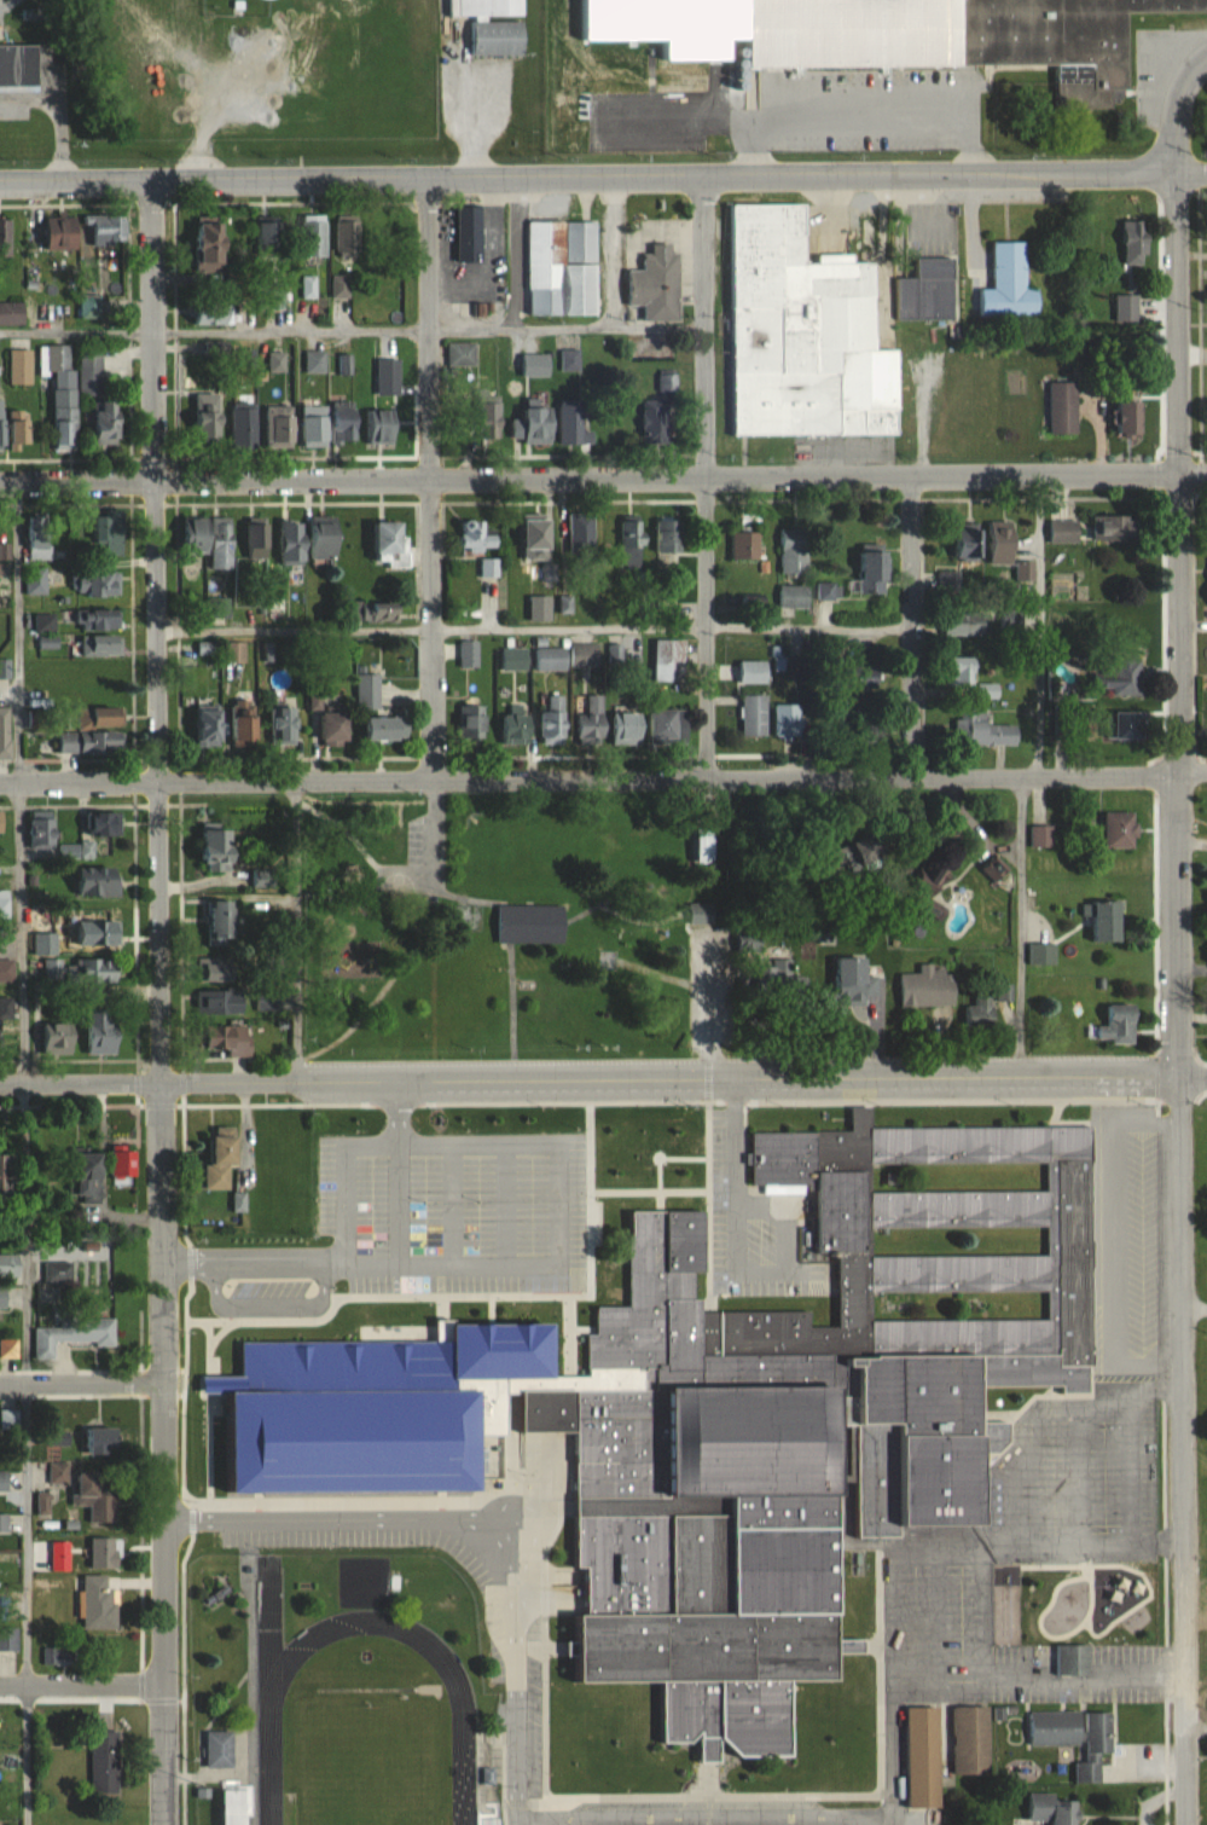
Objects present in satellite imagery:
building: (843, 2)
building: (491, 8)
building: (499, 39)
building: (1061, 39)
building: (19, 65)
road: (1179, 108)
road: (865, 116)
road: (475, 123)
road: (1193, 170)
road: (590, 176)
building: (106, 230)
building: (62, 232)
building: (267, 233)
building: (347, 234)
building: (469, 234)
building: (317, 236)
building: (5, 238)
building: (1136, 242)
building: (213, 248)
road: (607, 251)
road: (518, 253)
building: (563, 268)
building: (1009, 284)
building: (342, 285)
building: (657, 285)
building: (928, 291)
building: (89, 305)
building: (213, 312)
building: (11, 313)
road: (1180, 321)
road: (702, 326)
road: (425, 329)
road: (350, 330)
road: (150, 331)
building: (806, 335)
building: (460, 354)
building: (54, 358)
building: (570, 360)
building: (315, 361)
building: (21, 366)
building: (91, 371)
building: (1063, 409)
building: (209, 417)
building: (493, 418)
building: (1130, 418)
building: (655, 422)
building: (108, 423)
building: (19, 425)
building: (65, 425)
building: (245, 425)
building: (280, 425)
building: (315, 425)
building: (346, 425)
building: (538, 425)
building: (382, 427)
building: (574, 427)
building: (2, 428)
road: (603, 480)
building: (103, 527)
building: (1118, 529)
building: (1064, 532)
building: (475, 534)
building: (582, 534)
building: (37, 535)
building: (679, 535)
building: (259, 538)
building: (312, 539)
building: (536, 539)
building: (215, 540)
building: (631, 541)
building: (393, 544)
building: (745, 546)
building: (994, 546)
building: (795, 550)
building: (2, 560)
building: (489, 566)
building: (875, 573)
building: (36, 580)
building: (99, 585)
building: (829, 591)
building: (794, 596)
building: (1124, 618)
building: (100, 620)
building: (965, 625)
road: (912, 626)
road: (703, 627)
road: (429, 630)
road: (532, 630)
building: (101, 645)
building: (234, 651)
building: (469, 654)
building: (586, 655)
building: (515, 659)
building: (551, 659)
building: (671, 660)
building: (962, 671)
building: (1119, 677)
building: (755, 714)
building: (100, 715)
building: (245, 720)
building: (553, 720)
building: (592, 720)
building: (789, 720)
building: (209, 724)
building: (284, 724)
building: (477, 726)
building: (671, 726)
building: (1131, 726)
building: (628, 729)
building: (388, 730)
building: (517, 730)
building: (988, 730)
building: (336, 731)
building: (6, 732)
building: (92, 741)
road: (1020, 774)
road: (603, 778)
building: (2, 819)
building: (100, 822)
building: (1120, 829)
building: (43, 833)
building: (1041, 835)
building: (706, 845)
building: (871, 848)
building: (79, 851)
building: (213, 853)
building: (997, 869)
building: (97, 881)
building: (5, 905)
building: (702, 914)
building: (1109, 921)
building: (219, 923)
building: (532, 923)
road: (156, 931)
building: (97, 933)
building: (5, 960)
building: (210, 968)
building: (93, 977)
building: (784, 983)
building: (851, 985)
building: (925, 993)
building: (219, 1001)
road: (703, 1008)
building: (6, 1009)
building: (980, 1013)
building: (1120, 1024)
building: (95, 1037)
building: (224, 1042)
building: (52, 1043)
road: (603, 1080)
road: (541, 1143)
building: (268, 1148)
road: (1177, 1148)
road: (21, 1154)
building: (219, 1158)
building: (120, 1164)
road: (733, 1170)
building: (82, 1183)
road: (455, 1205)
road: (509, 1205)
road: (366, 1268)
building: (7, 1269)
building: (56, 1273)
building: (2, 1300)
road: (273, 1309)
road: (1193, 1310)
building: (72, 1336)
building: (7, 1350)
road: (81, 1380)
building: (772, 1386)
building: (434, 1436)
building: (58, 1438)
building: (98, 1443)
building: (58, 1473)
building: (4, 1481)
building: (91, 1482)
road: (353, 1518)
building: (4, 1525)
road: (899, 1551)
building: (105, 1553)
road: (163, 1603)
building: (99, 1606)
road: (512, 1630)
building: (8, 1636)
building: (1073, 1659)
road: (1017, 1680)
road: (81, 1685)
track: (271, 1690)
building: (1077, 1737)
building: (973, 1740)
building: (220, 1749)
building: (924, 1757)
building: (106, 1762)
park: (365, 1765)
park: (366, 1765)
building: (1050, 1809)
road: (707, 1821)

